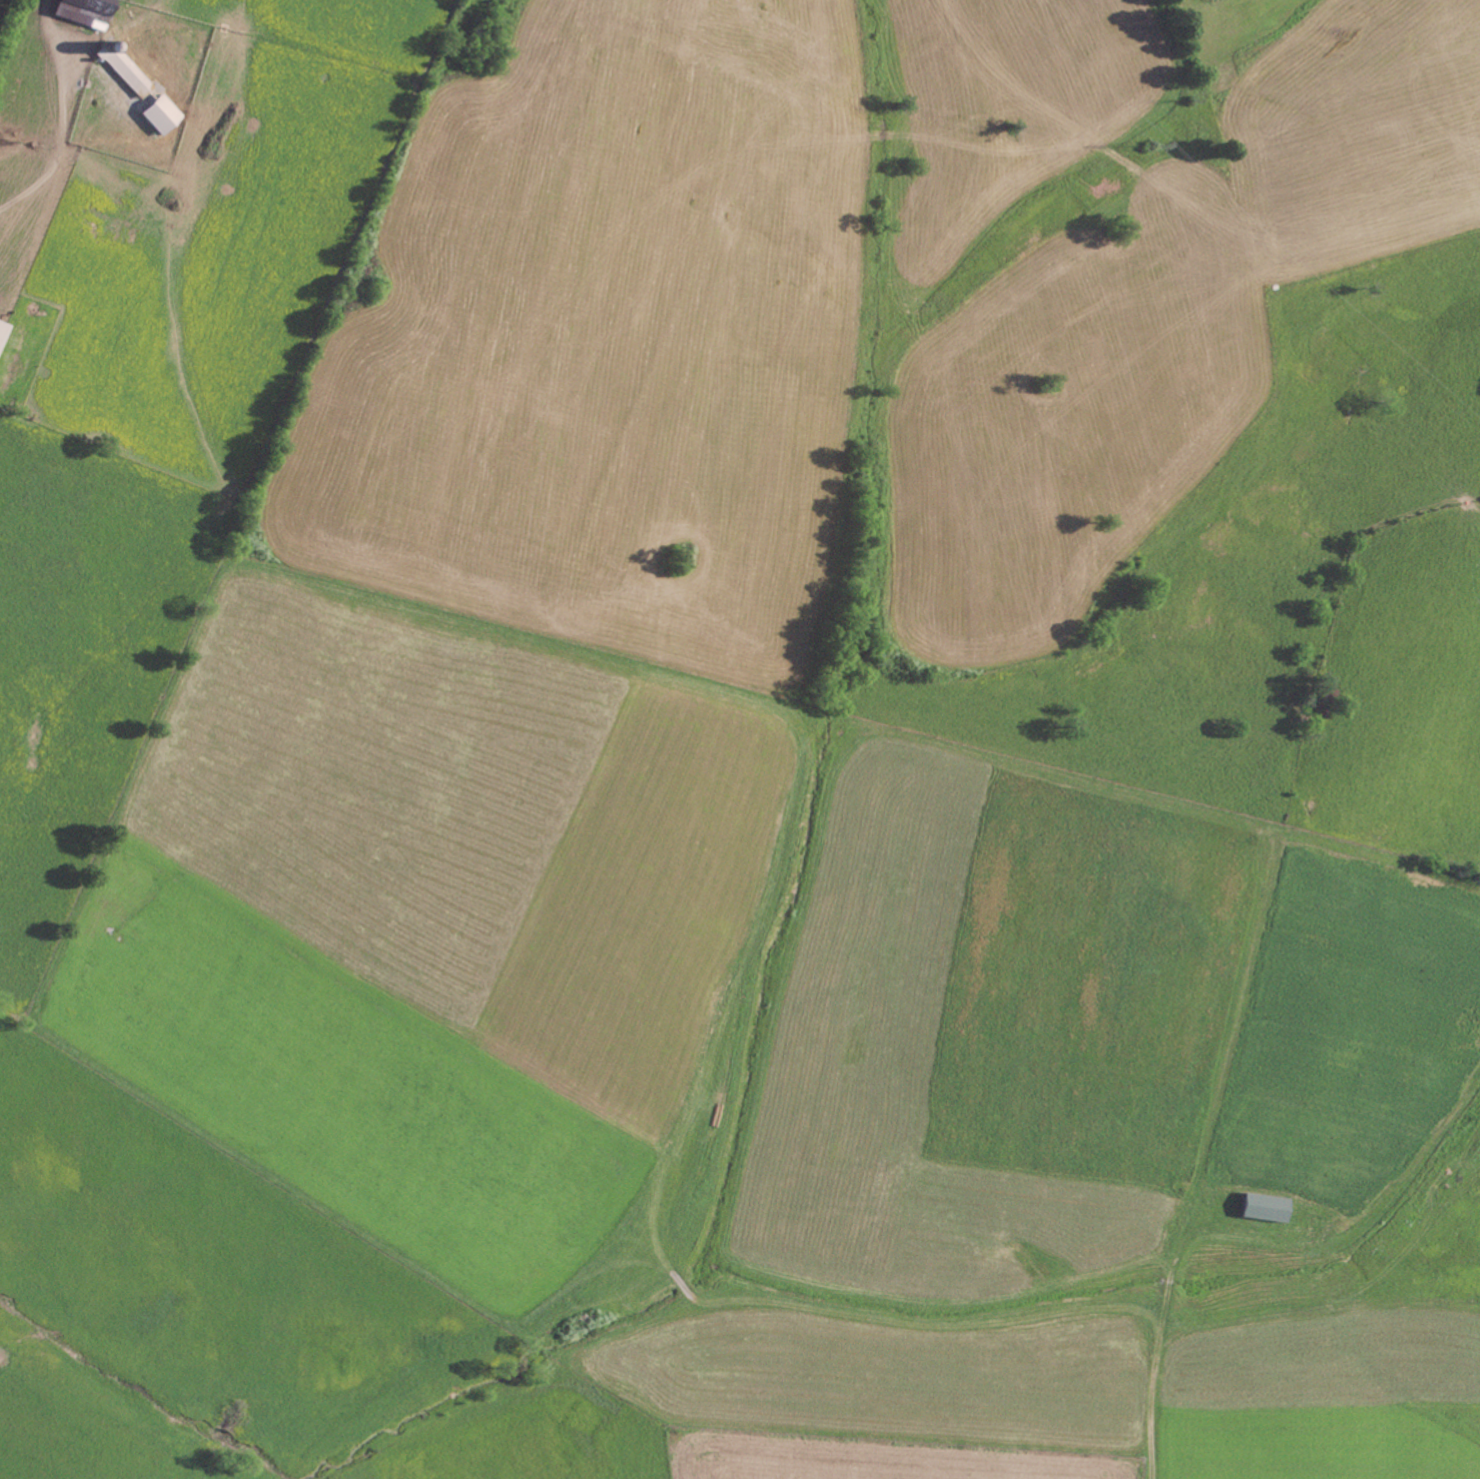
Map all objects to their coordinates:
building: (85, 12)
building: (126, 70)
building: (162, 116)
building: (2, 329)
building: (1266, 1208)

